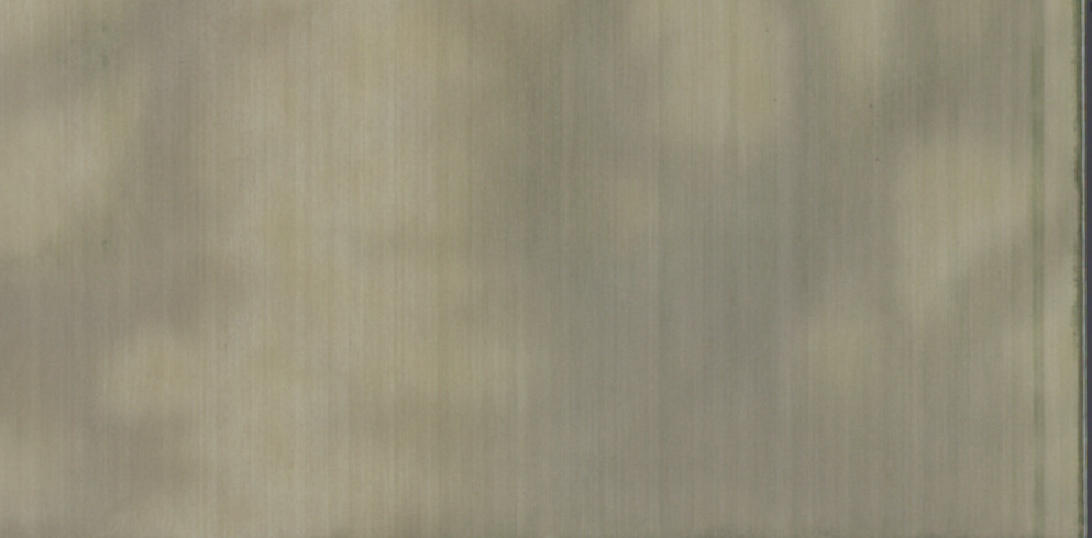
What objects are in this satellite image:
road: (1091, 60)

